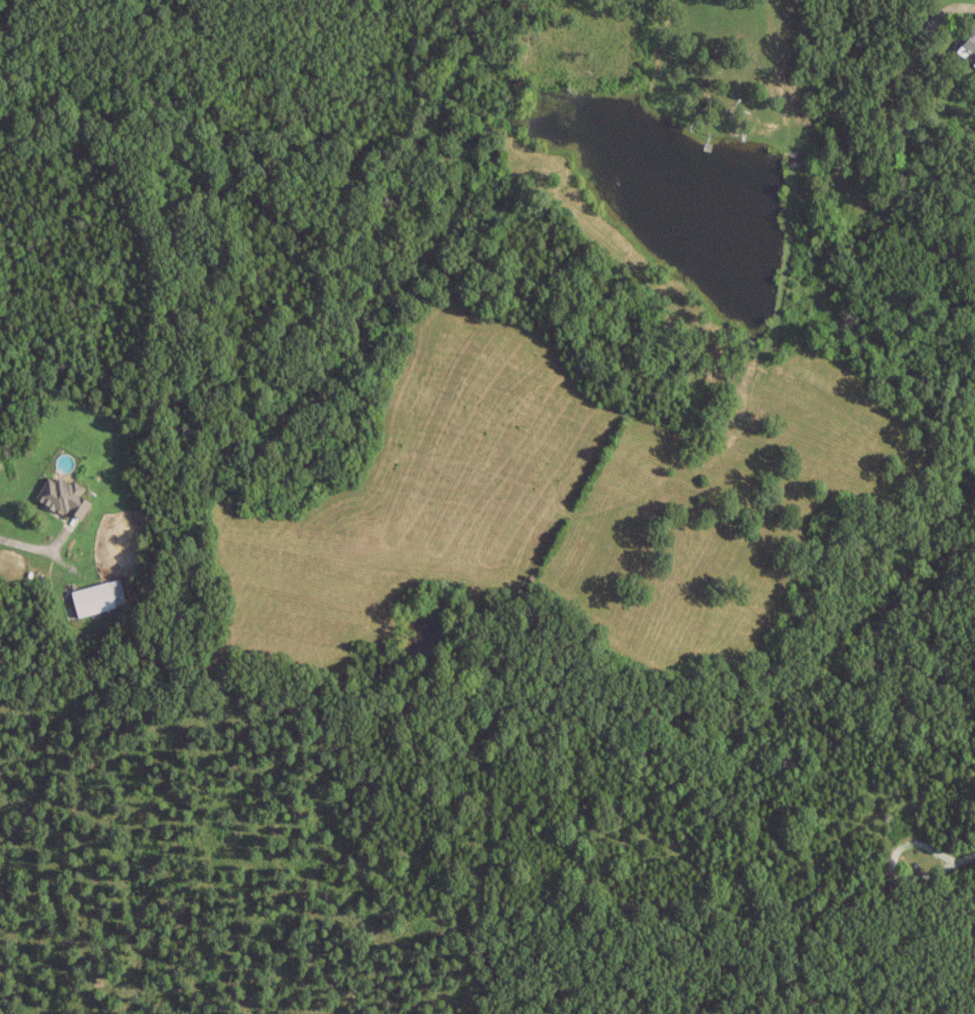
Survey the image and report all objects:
building: (928, 30)
building: (970, 38)
building: (973, 62)
building: (62, 494)
road: (36, 550)
building: (96, 595)

